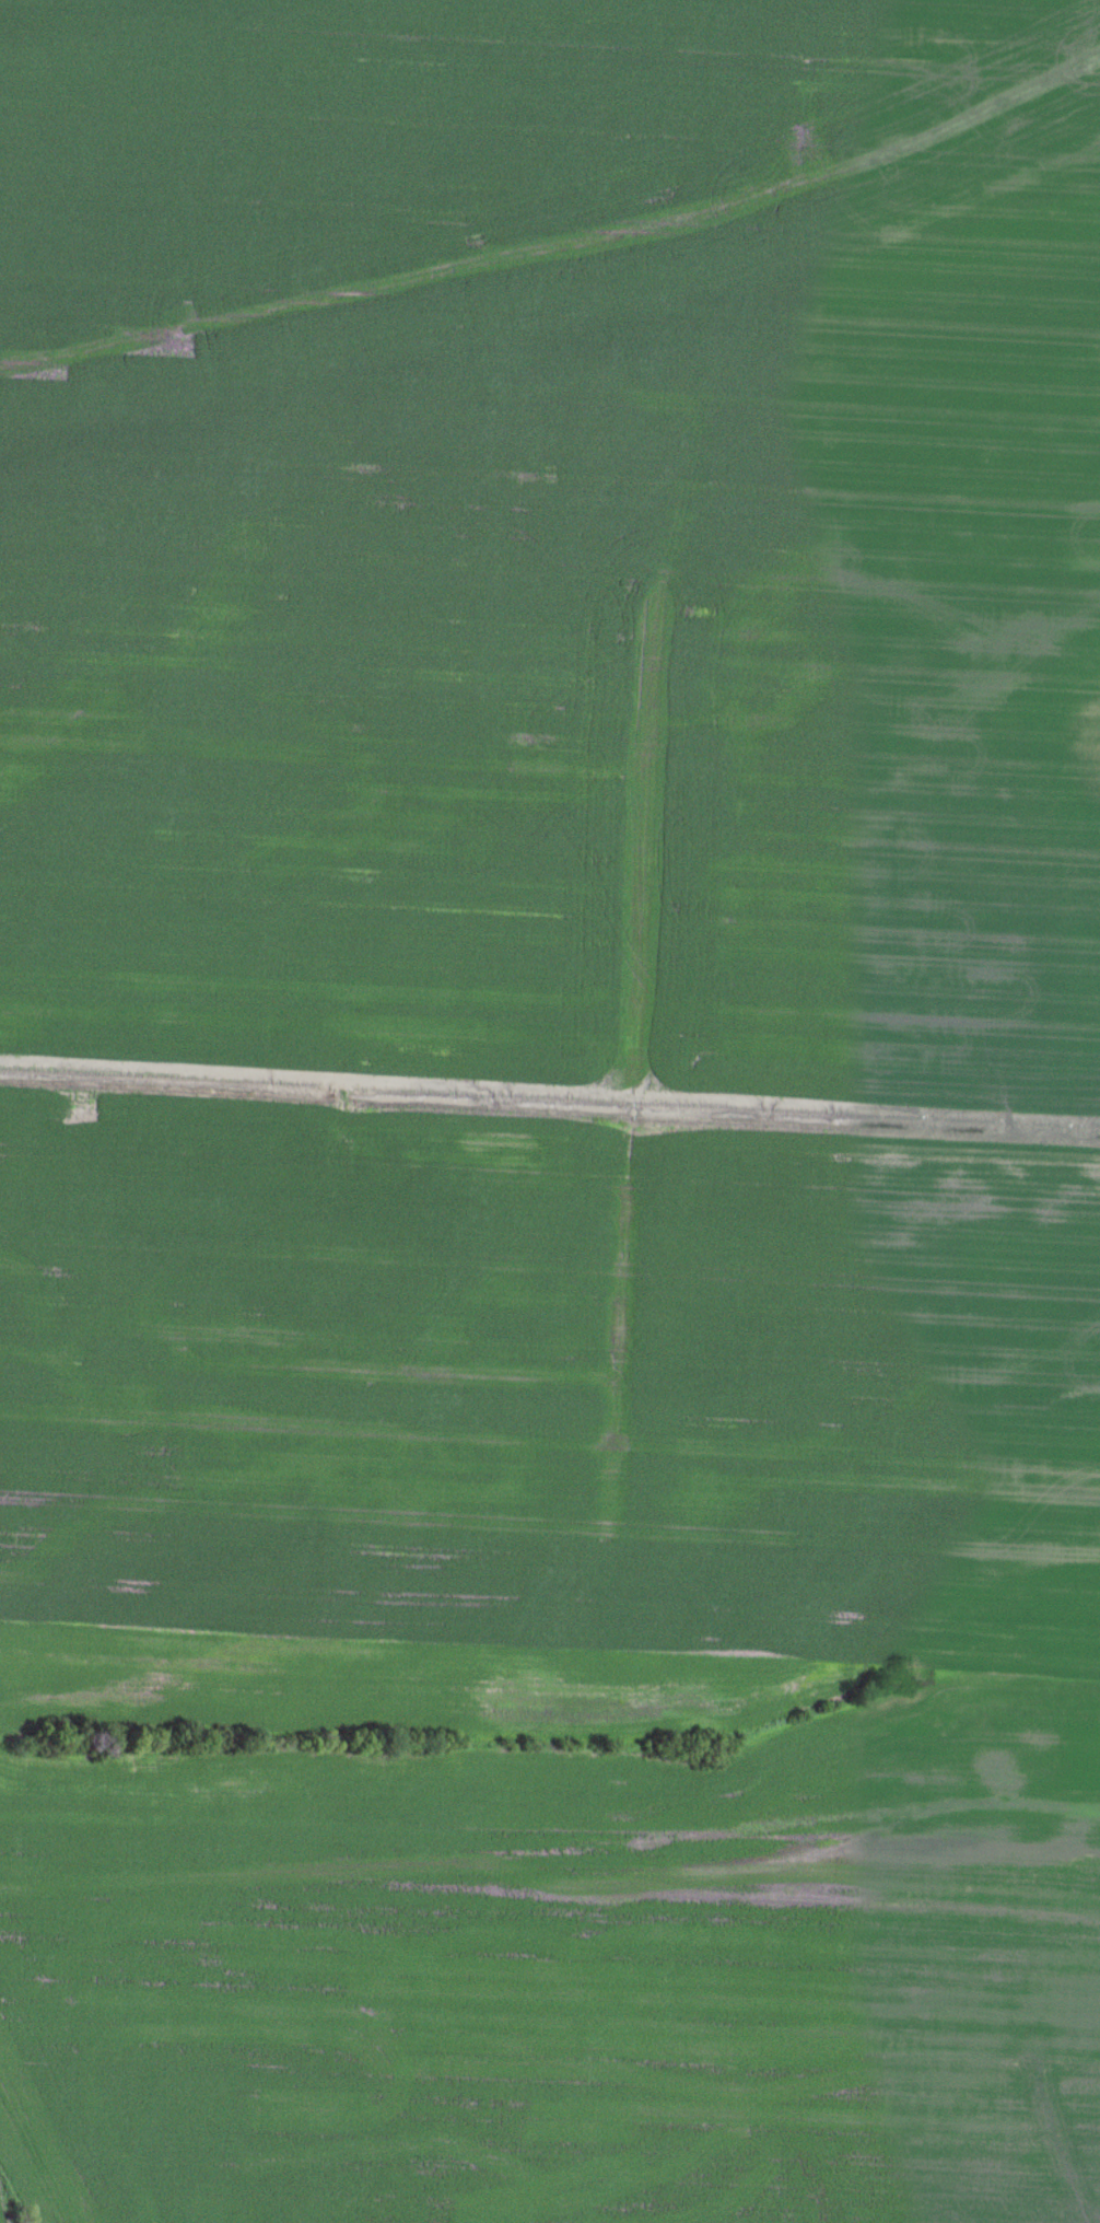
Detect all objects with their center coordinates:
road: (549, 1099)

